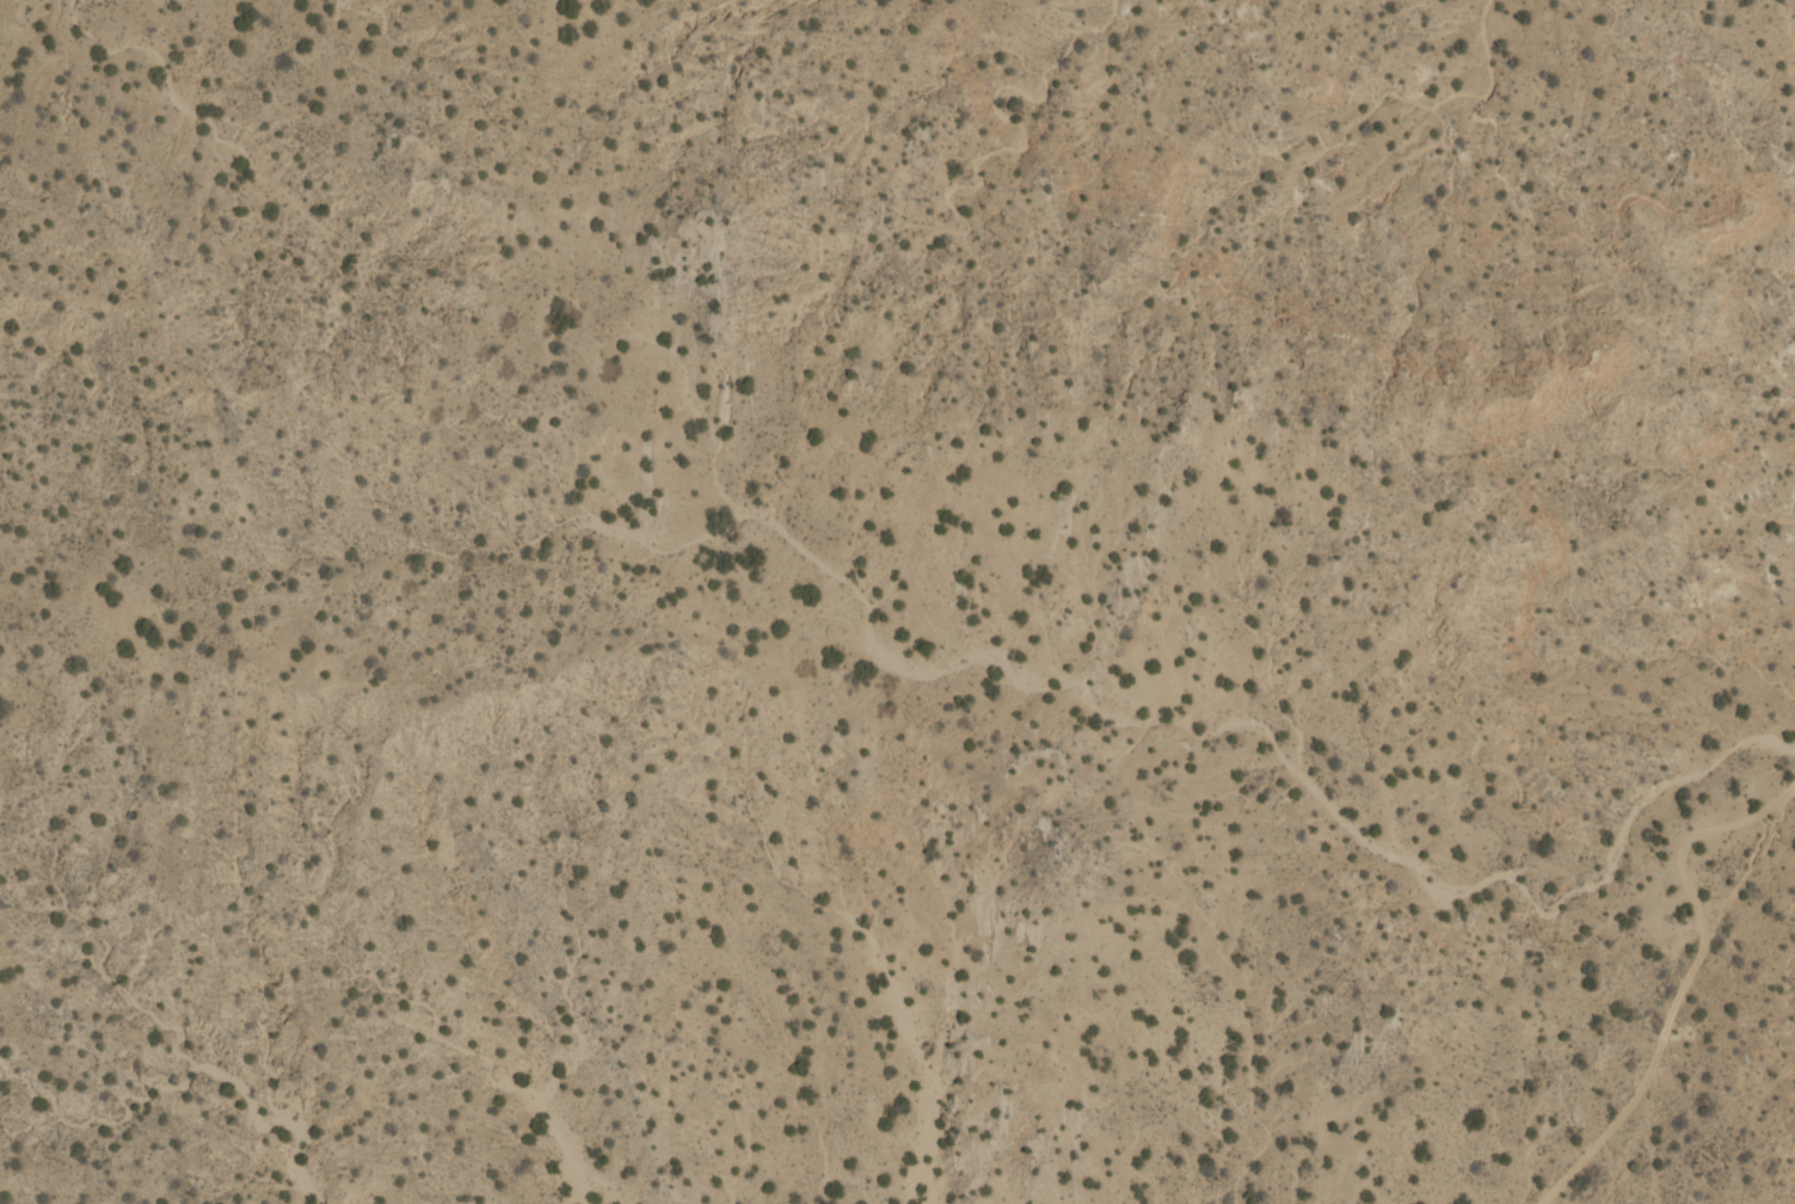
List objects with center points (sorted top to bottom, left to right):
road: (1685, 985)

